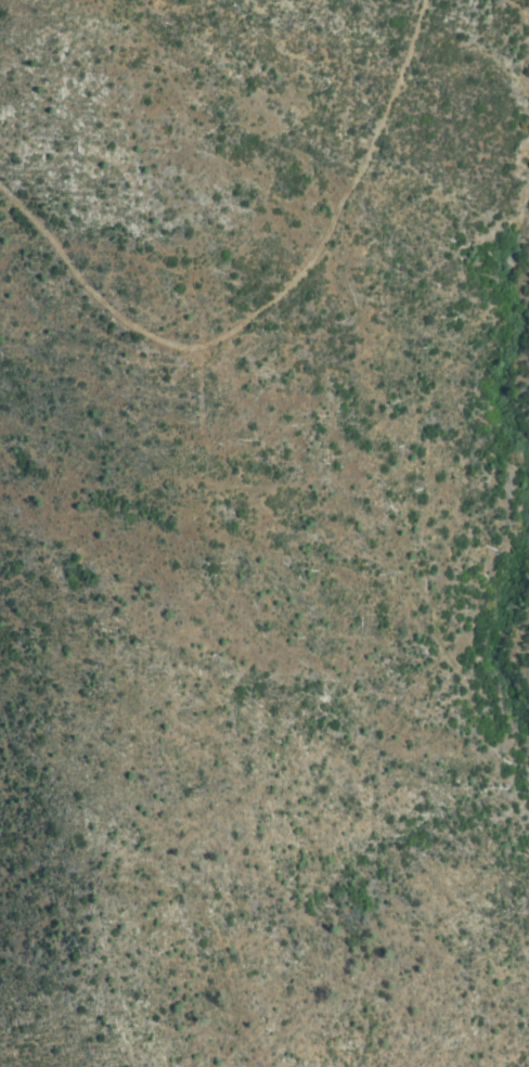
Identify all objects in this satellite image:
road: (268, 307)

